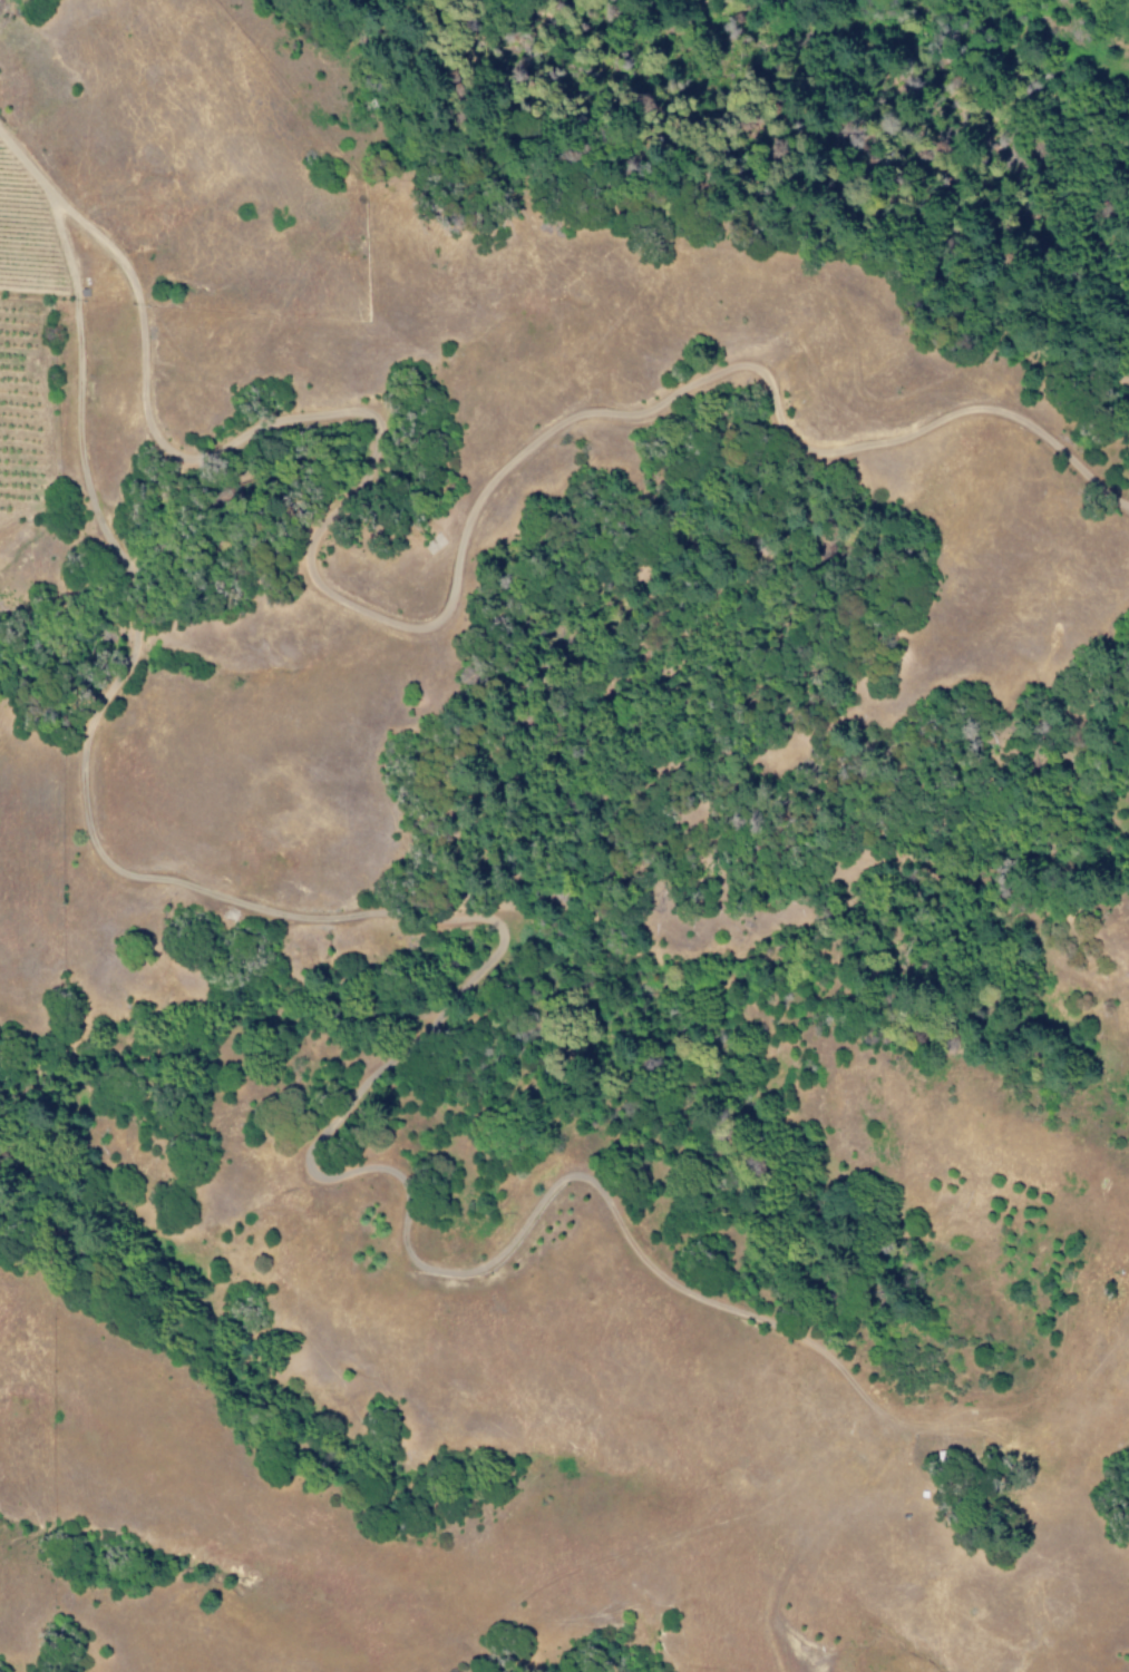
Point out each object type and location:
road: (411, 679)

